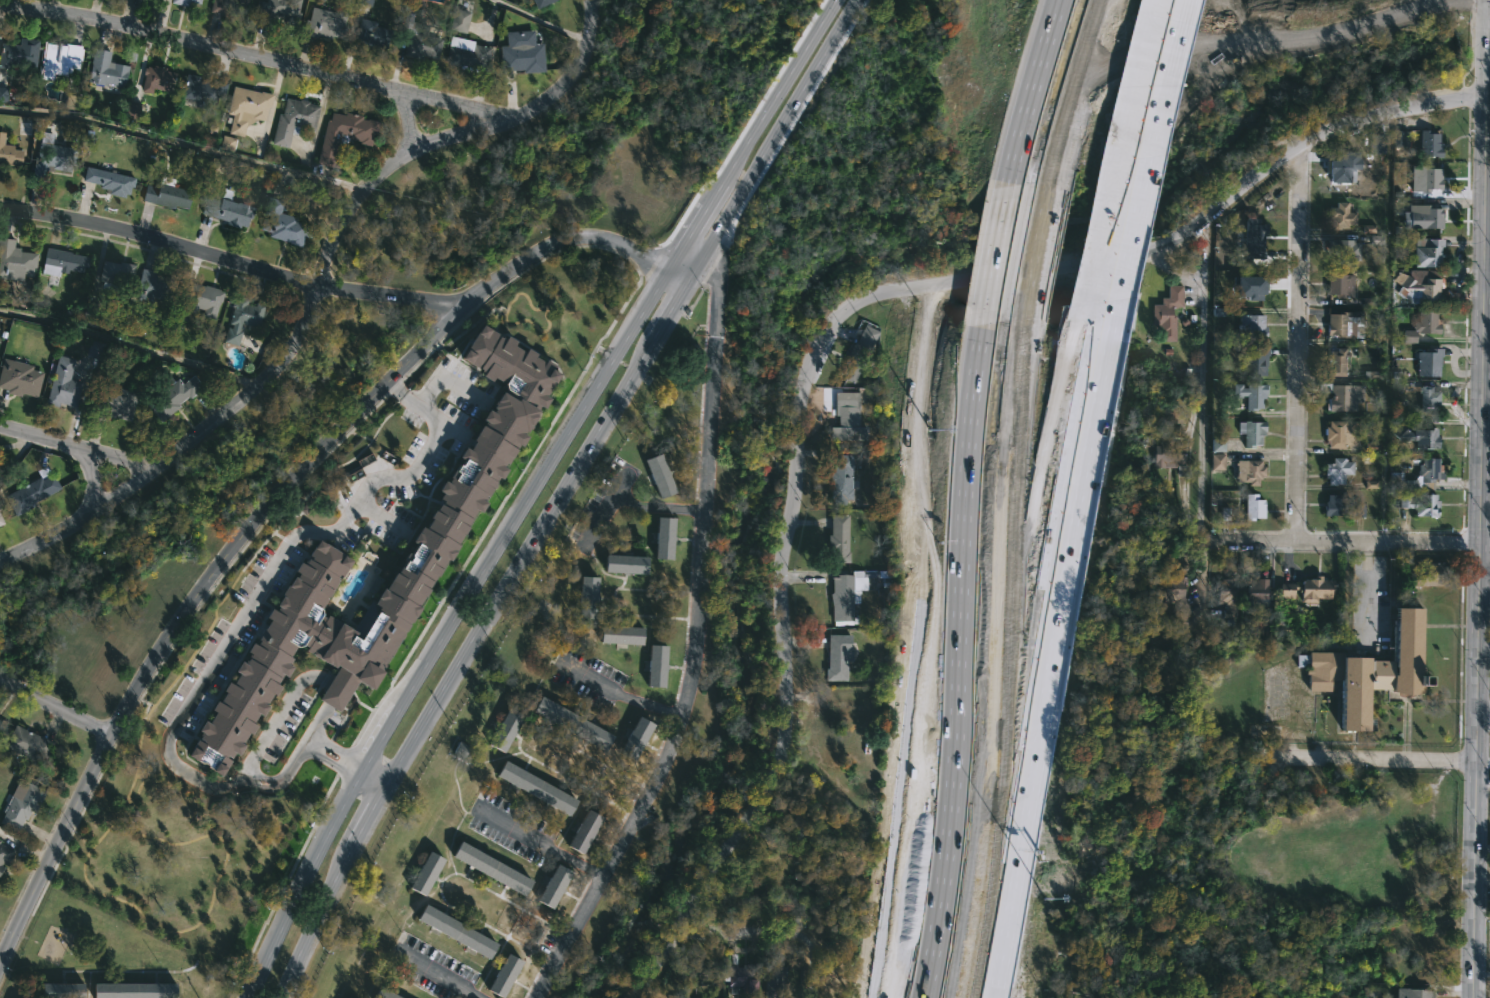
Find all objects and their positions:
building: (184, 2)
building: (365, 2)
building: (541, 3)
building: (224, 6)
building: (277, 12)
building: (458, 20)
road: (545, 21)
building: (324, 23)
building: (1163, 30)
building: (370, 36)
building: (419, 42)
road: (200, 44)
building: (520, 53)
building: (19, 54)
building: (57, 58)
building: (467, 58)
building: (105, 70)
building: (153, 79)
road: (1488, 87)
road: (780, 90)
building: (199, 91)
building: (3, 94)
road: (1043, 101)
road: (456, 104)
building: (245, 108)
road: (528, 108)
building: (132, 109)
road: (1142, 110)
building: (292, 121)
road: (408, 124)
building: (344, 133)
building: (1401, 139)
road: (770, 141)
road: (184, 142)
building: (227, 143)
building: (1376, 144)
building: (1430, 145)
park: (565, 150)
building: (9, 153)
building: (50, 156)
building: (1343, 167)
road: (1147, 171)
building: (1426, 177)
building: (107, 181)
building: (167, 194)
building: (227, 210)
road: (349, 213)
building: (1341, 216)
building: (1423, 217)
building: (281, 224)
road: (697, 226)
road: (559, 238)
building: (1255, 239)
road: (160, 240)
building: (1344, 251)
building: (1428, 253)
building: (14, 261)
building: (61, 261)
building: (114, 274)
road: (1487, 276)
road: (676, 277)
road: (999, 278)
road: (1106, 282)
building: (1340, 285)
building: (1419, 286)
building: (152, 288)
road: (390, 293)
building: (202, 300)
road: (668, 311)
building: (1168, 313)
building: (91, 316)
building: (240, 319)
building: (1345, 325)
building: (1252, 326)
building: (1422, 327)
road: (829, 330)
road: (1298, 341)
road: (131, 344)
building: (95, 350)
building: (858, 353)
building: (1255, 361)
building: (1337, 362)
building: (1428, 363)
building: (18, 378)
building: (61, 384)
building: (171, 394)
building: (1252, 394)
building: (857, 397)
building: (1342, 398)
building: (1428, 400)
building: (113, 401)
road: (1201, 410)
building: (847, 425)
building: (1252, 431)
building: (1341, 434)
building: (1419, 436)
building: (1218, 443)
road: (79, 447)
road: (184, 447)
road: (16, 455)
building: (1171, 456)
building: (1217, 461)
building: (1250, 470)
building: (1429, 470)
building: (1337, 471)
building: (660, 475)
building: (843, 480)
building: (1402, 482)
road: (89, 483)
building: (31, 491)
road: (1481, 499)
road: (655, 506)
building: (1255, 506)
building: (1421, 506)
building: (1341, 508)
park: (176, 518)
building: (1, 521)
building: (666, 538)
building: (839, 538)
road: (1340, 541)
building: (431, 546)
road: (518, 563)
building: (625, 564)
road: (273, 565)
building: (1429, 574)
building: (1308, 589)
building: (1258, 590)
building: (1176, 591)
road: (1366, 592)
building: (847, 593)
building: (1226, 595)
building: (588, 596)
road: (185, 607)
road: (448, 628)
building: (1252, 628)
road: (698, 633)
building: (622, 636)
building: (839, 656)
building: (657, 667)
road: (1035, 670)
road: (1051, 670)
building: (1372, 670)
road: (935, 674)
road: (4, 694)
road: (622, 696)
road: (55, 707)
road: (1482, 716)
road: (275, 721)
building: (570, 722)
building: (504, 729)
building: (634, 737)
building: (28, 742)
road: (305, 742)
road: (1366, 760)
road: (291, 763)
road: (376, 782)
road: (1338, 784)
building: (535, 787)
building: (17, 805)
road: (373, 819)
building: (797, 827)
building: (584, 832)
road: (543, 842)
building: (4, 853)
building: (0, 866)
building: (491, 868)
building: (426, 874)
building: (553, 886)
road: (321, 923)
building: (457, 931)
road: (740, 937)
road: (807, 968)
building: (697, 972)
building: (503, 973)
building: (714, 975)
road: (444, 976)
building: (741, 976)
building: (774, 981)
building: (60, 989)
building: (134, 989)
building: (384, 993)
building: (1414, 993)
building: (348, 997)

